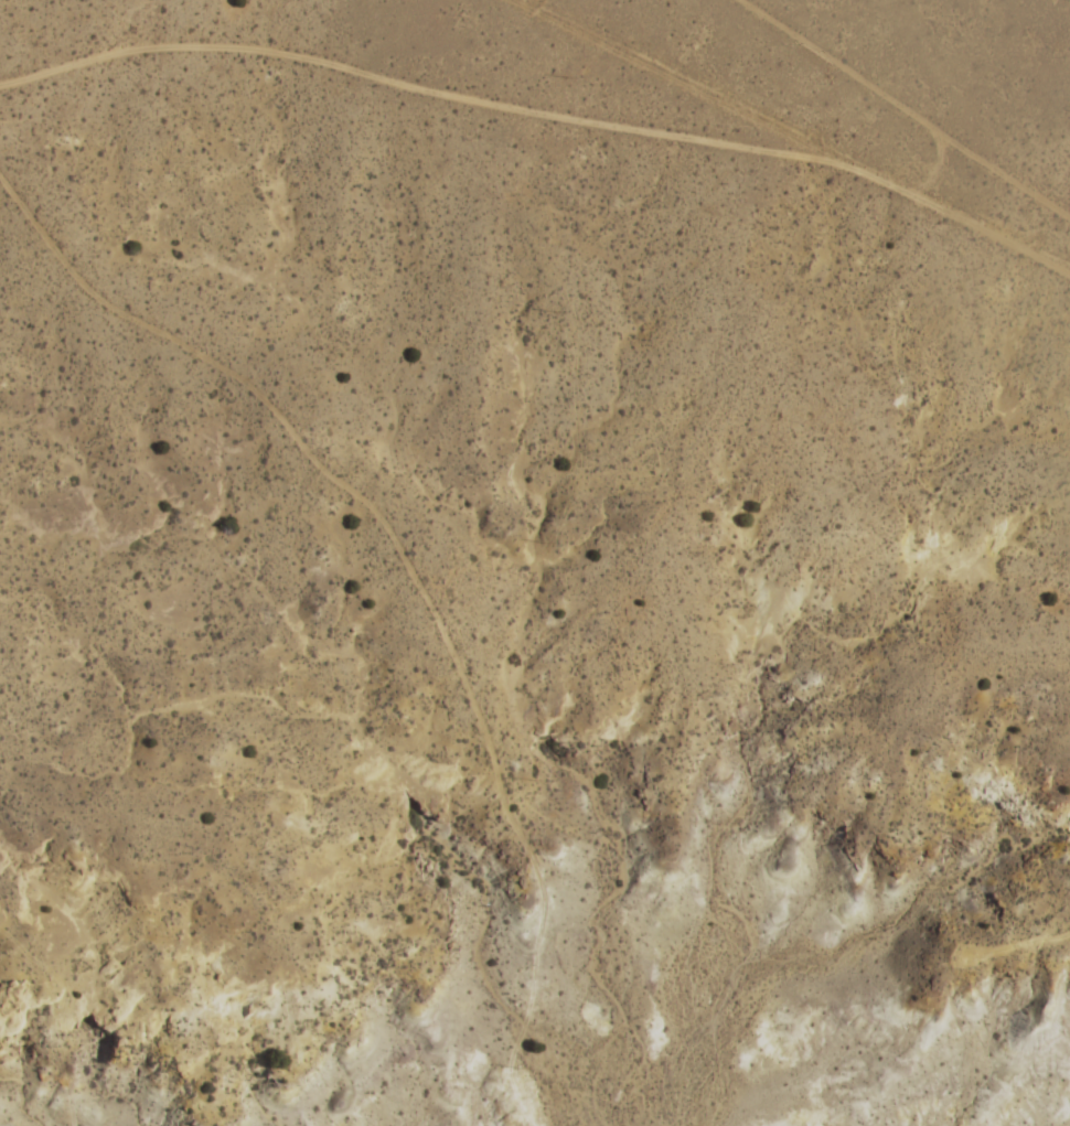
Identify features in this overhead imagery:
road: (899, 119)

